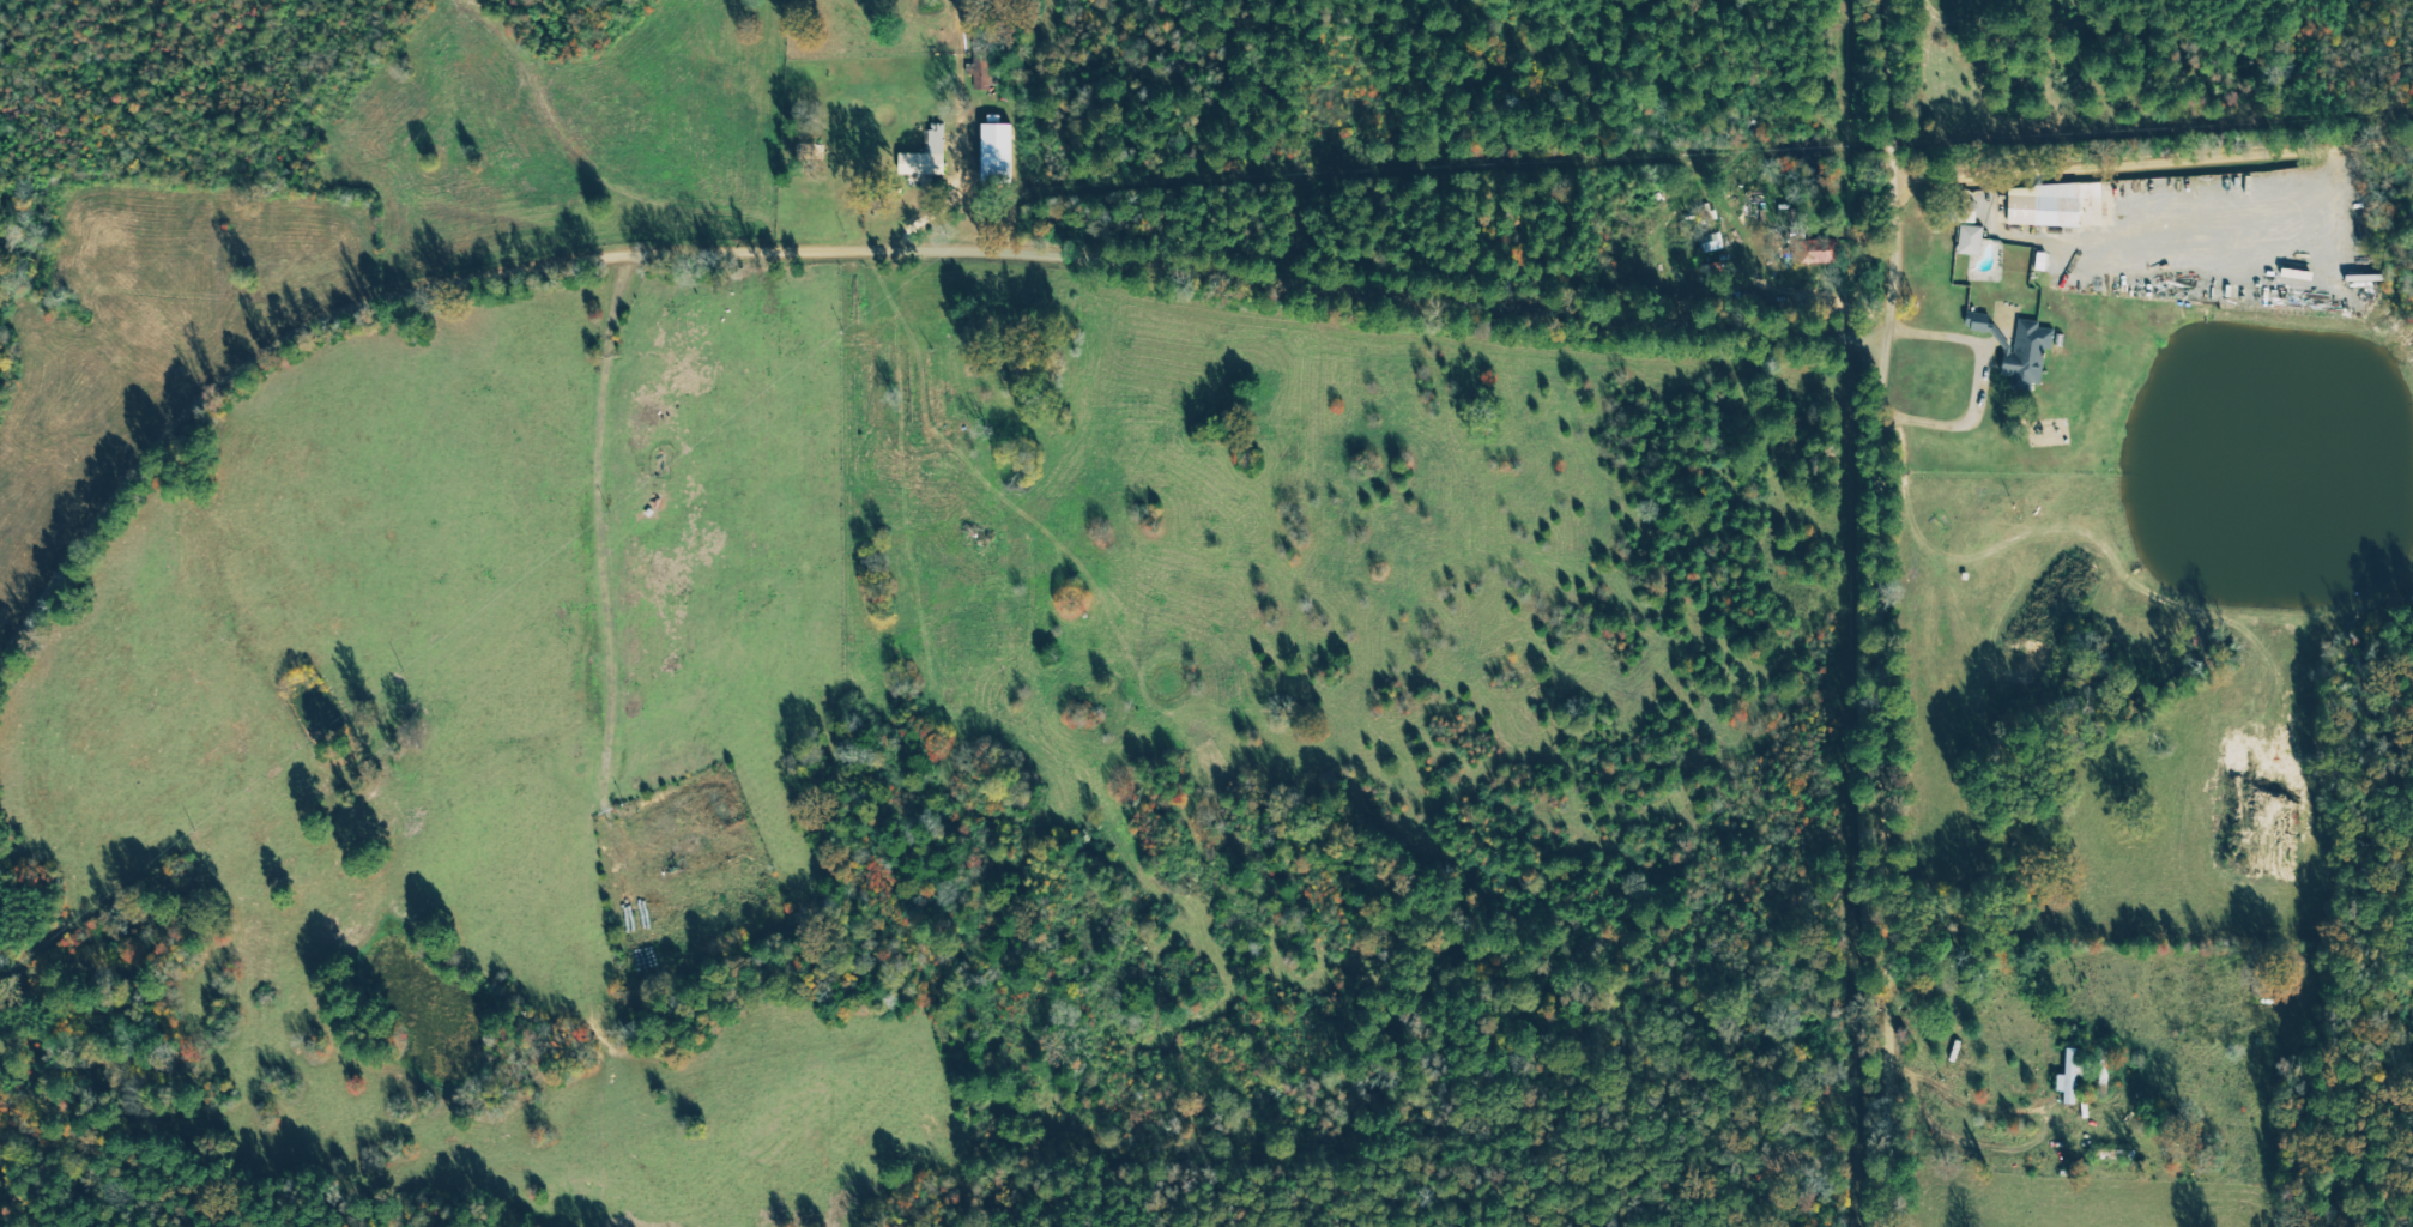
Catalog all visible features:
road: (1876, 93)
building: (997, 153)
building: (927, 156)
road: (2145, 159)
building: (2045, 206)
building: (1966, 207)
building: (1972, 240)
road: (853, 246)
building: (1819, 254)
road: (1876, 265)
building: (2030, 356)
road: (1875, 785)
building: (2072, 1077)

